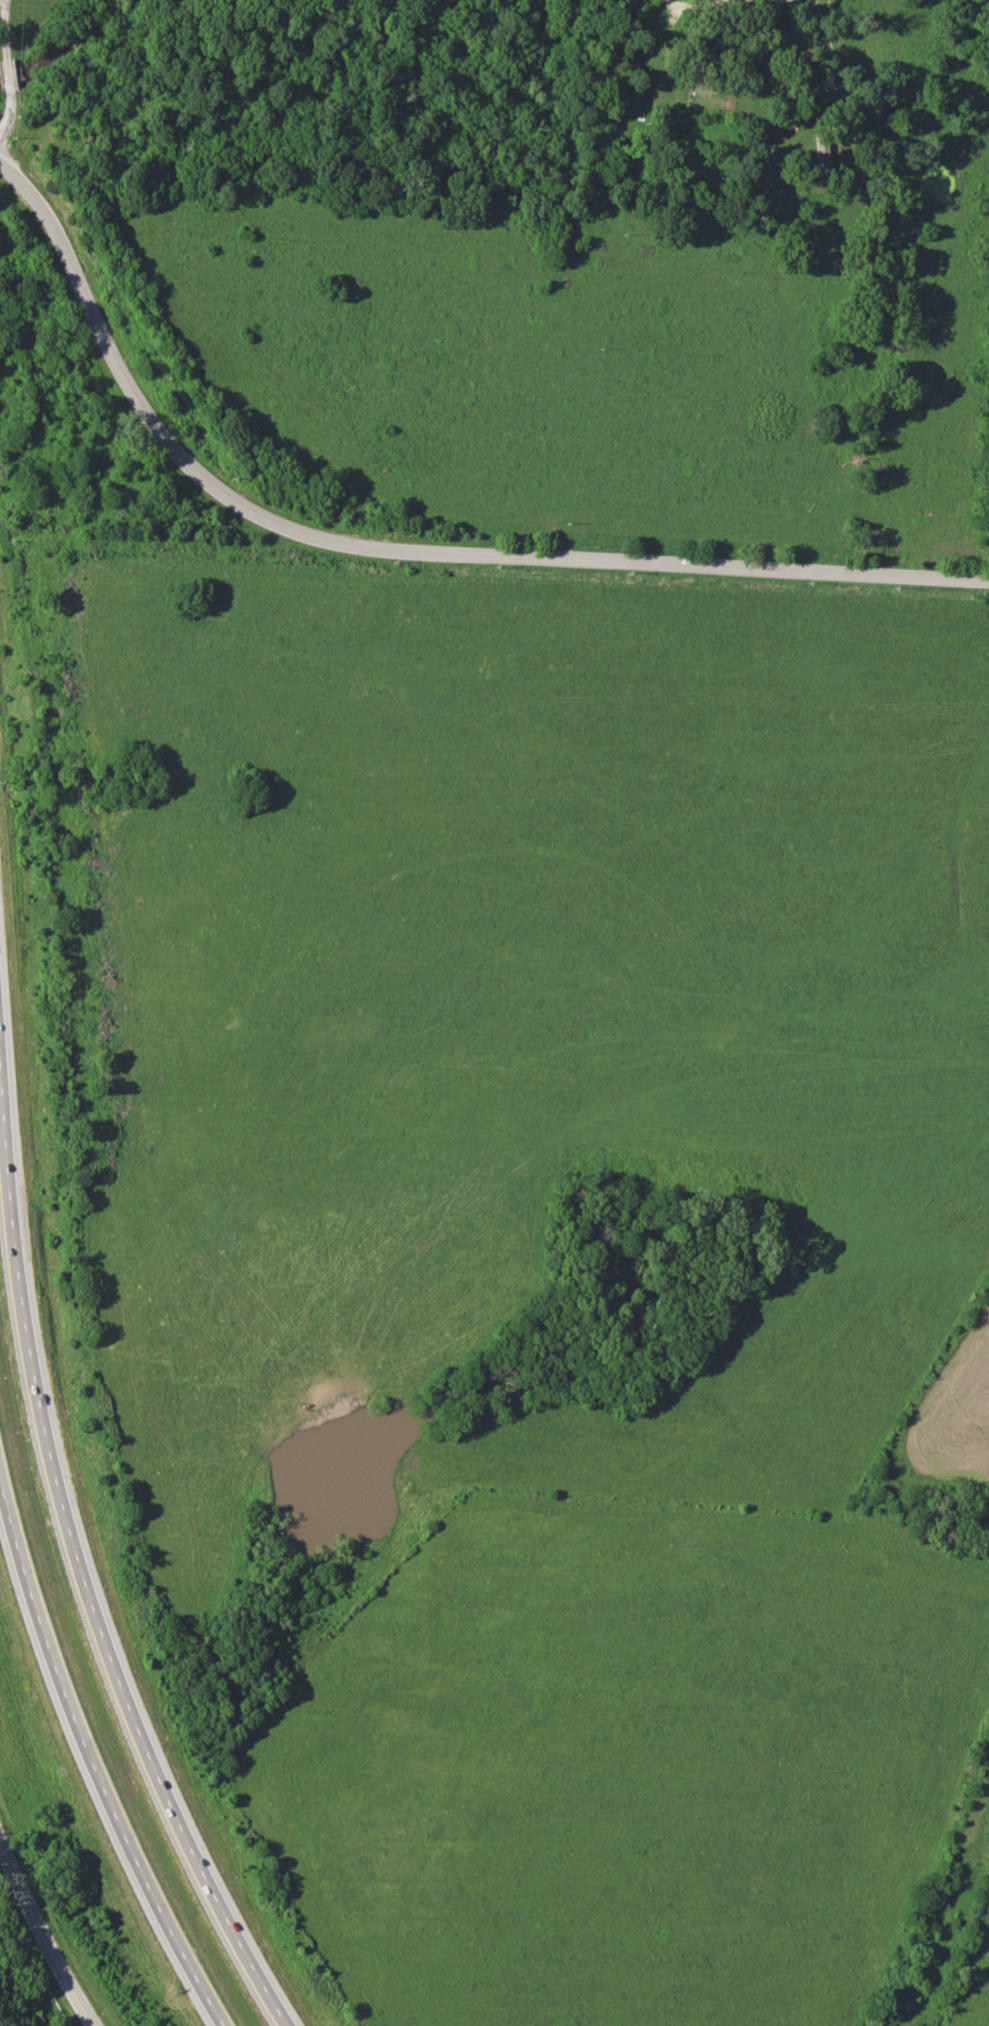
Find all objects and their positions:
road: (717, 1)
road: (747, 2)
road: (691, 7)
road: (4, 30)
road: (827, 39)
road: (6, 74)
road: (7, 114)
building: (822, 155)
road: (397, 551)
road: (83, 1572)
road: (87, 1749)
road: (42, 1941)

